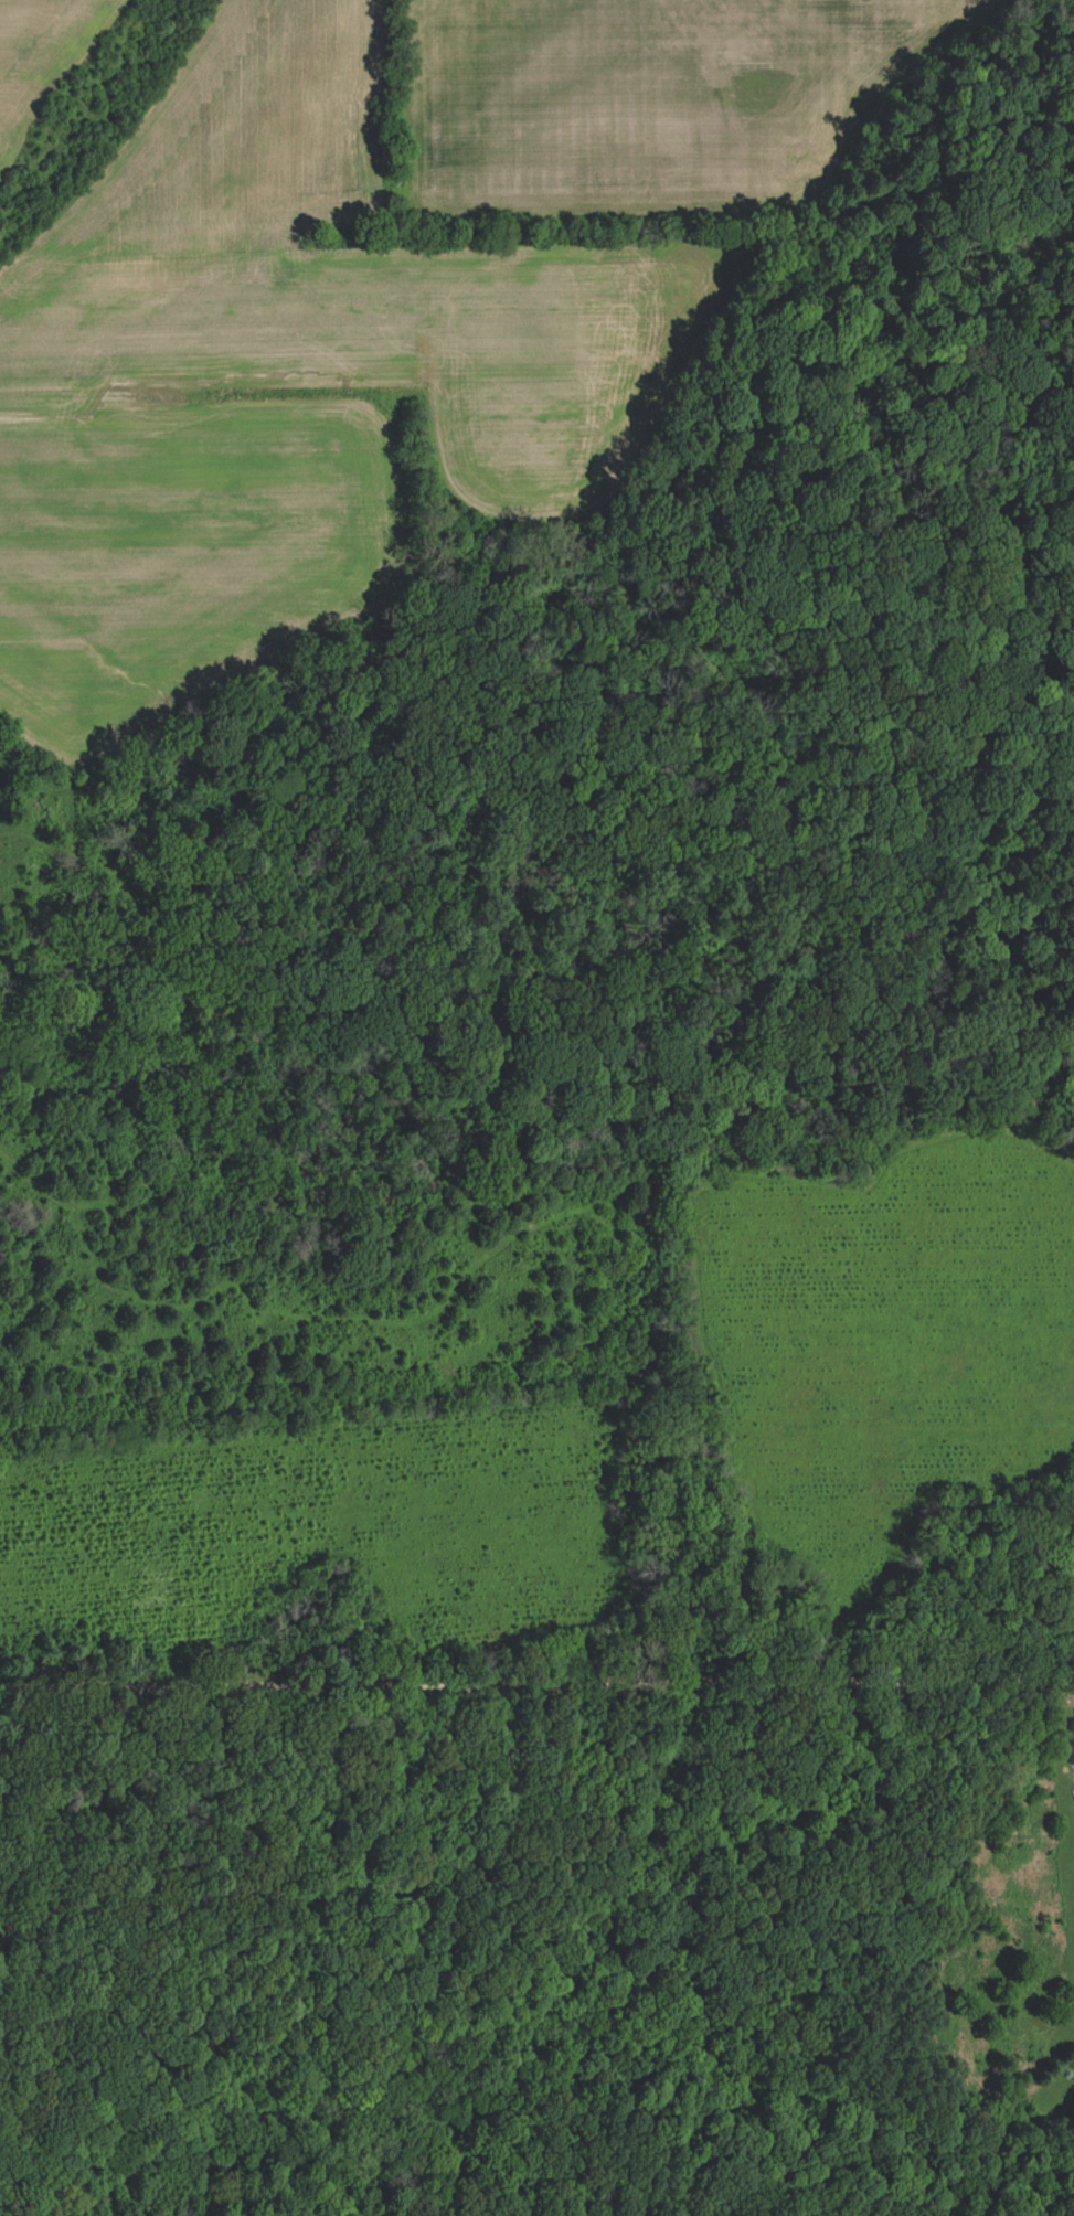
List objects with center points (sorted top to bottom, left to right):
road: (9, 830)
road: (536, 1672)

